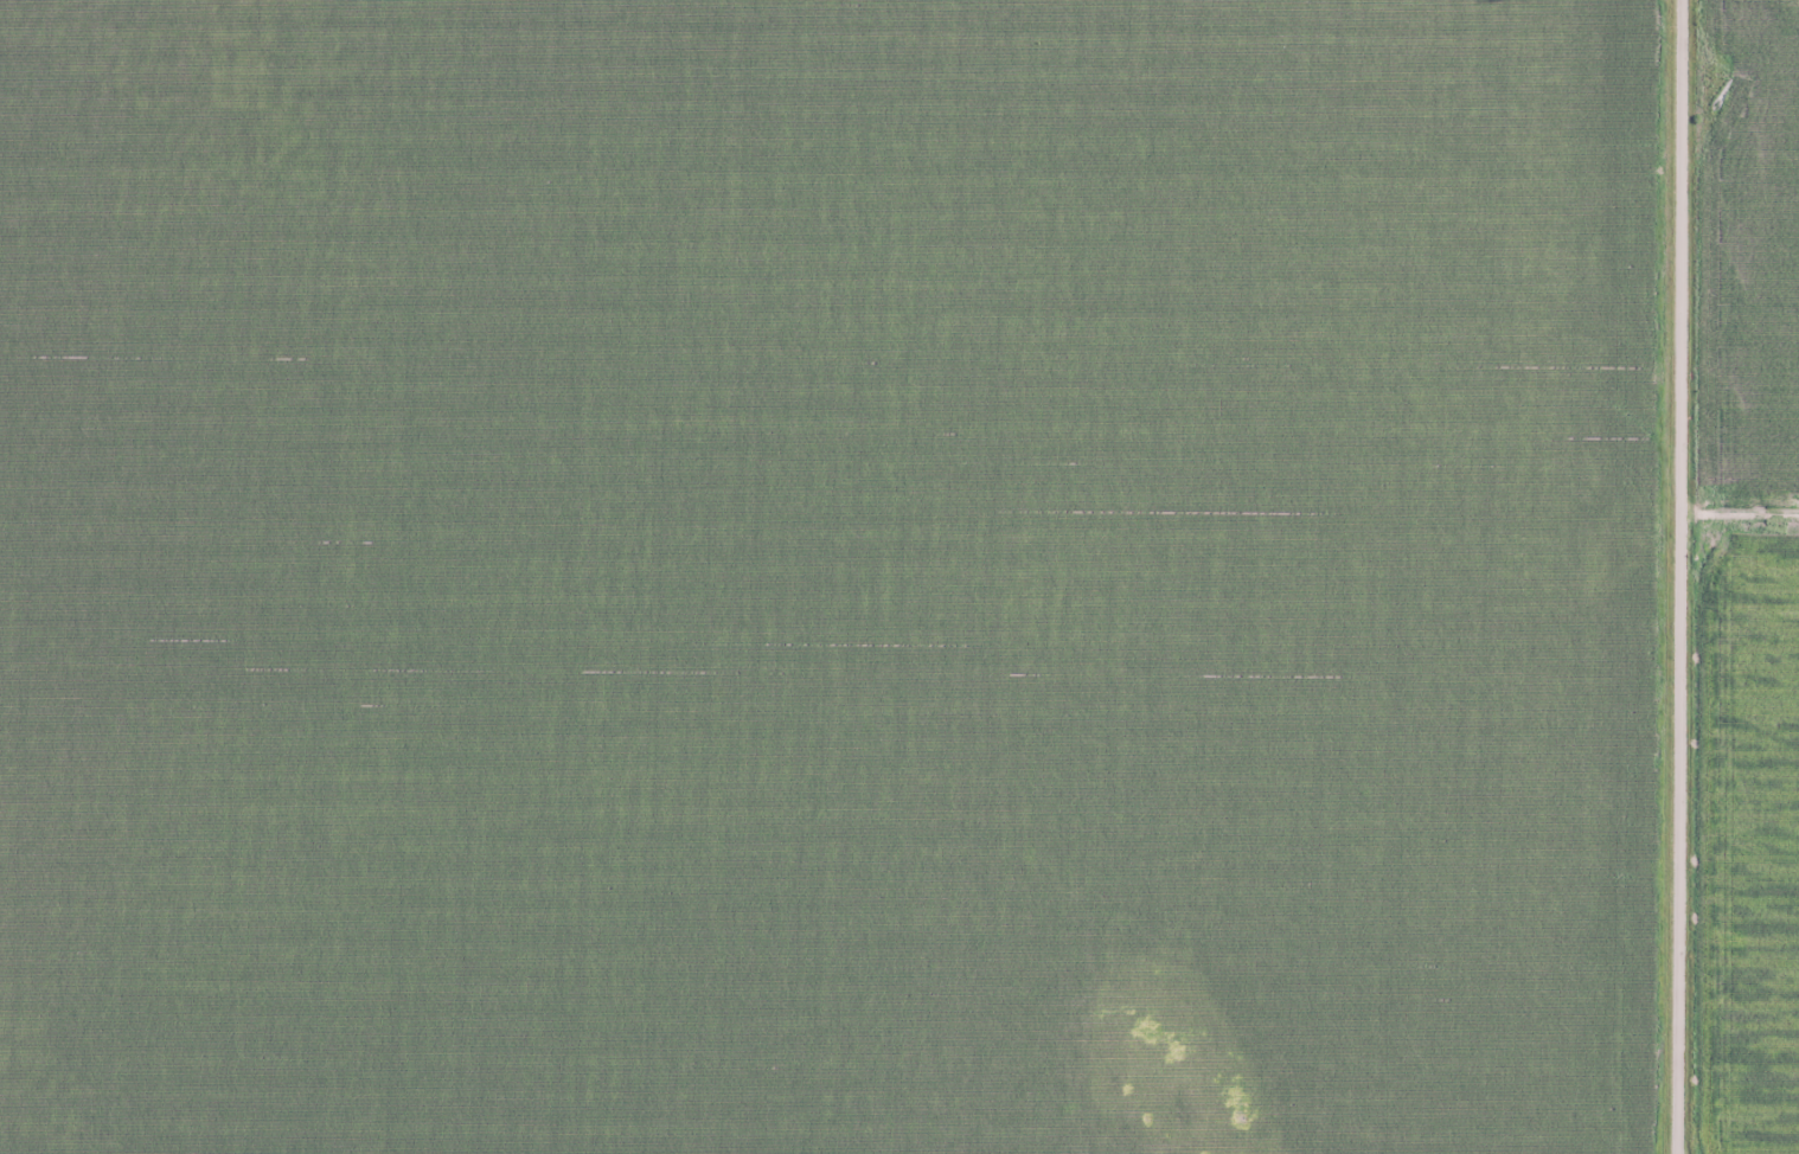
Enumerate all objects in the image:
road: (1680, 577)

